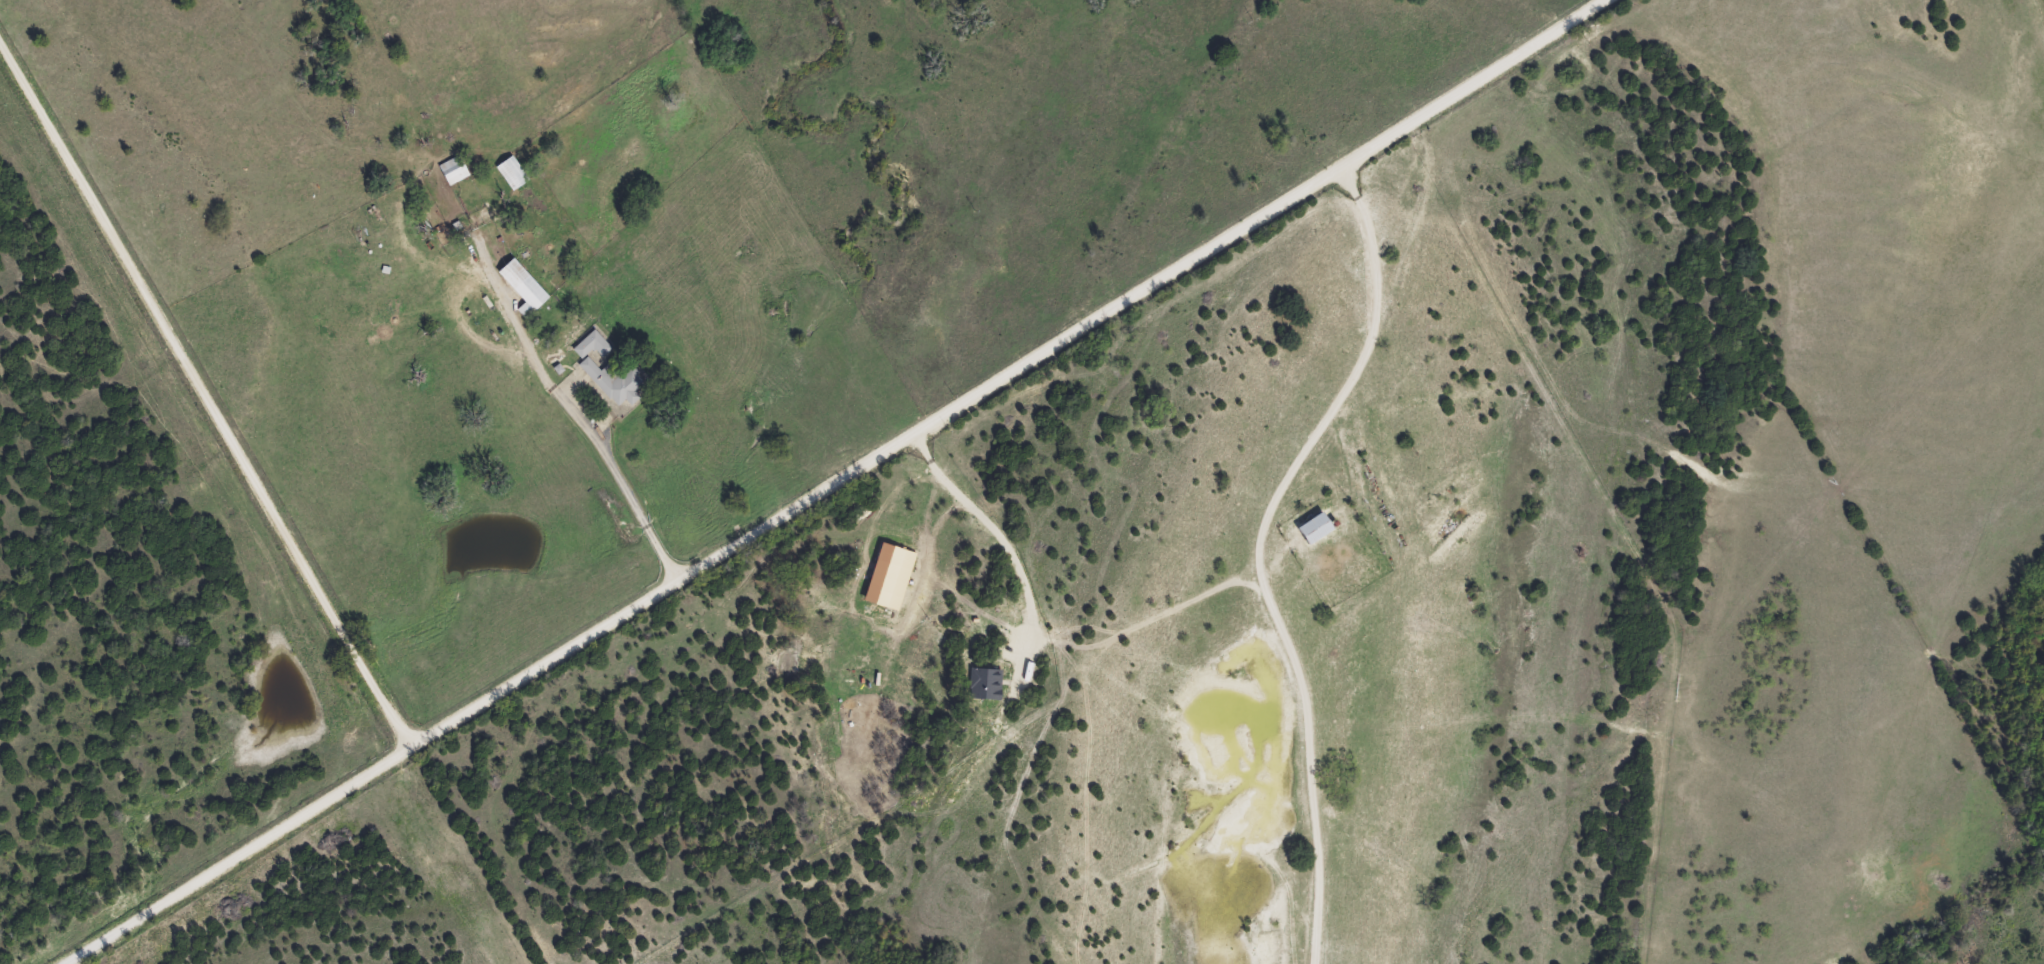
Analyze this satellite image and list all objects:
building: (454, 168)
building: (512, 171)
building: (524, 285)
building: (609, 371)
road: (207, 394)
road: (591, 410)
road: (844, 480)
road: (1309, 504)
building: (1316, 526)

